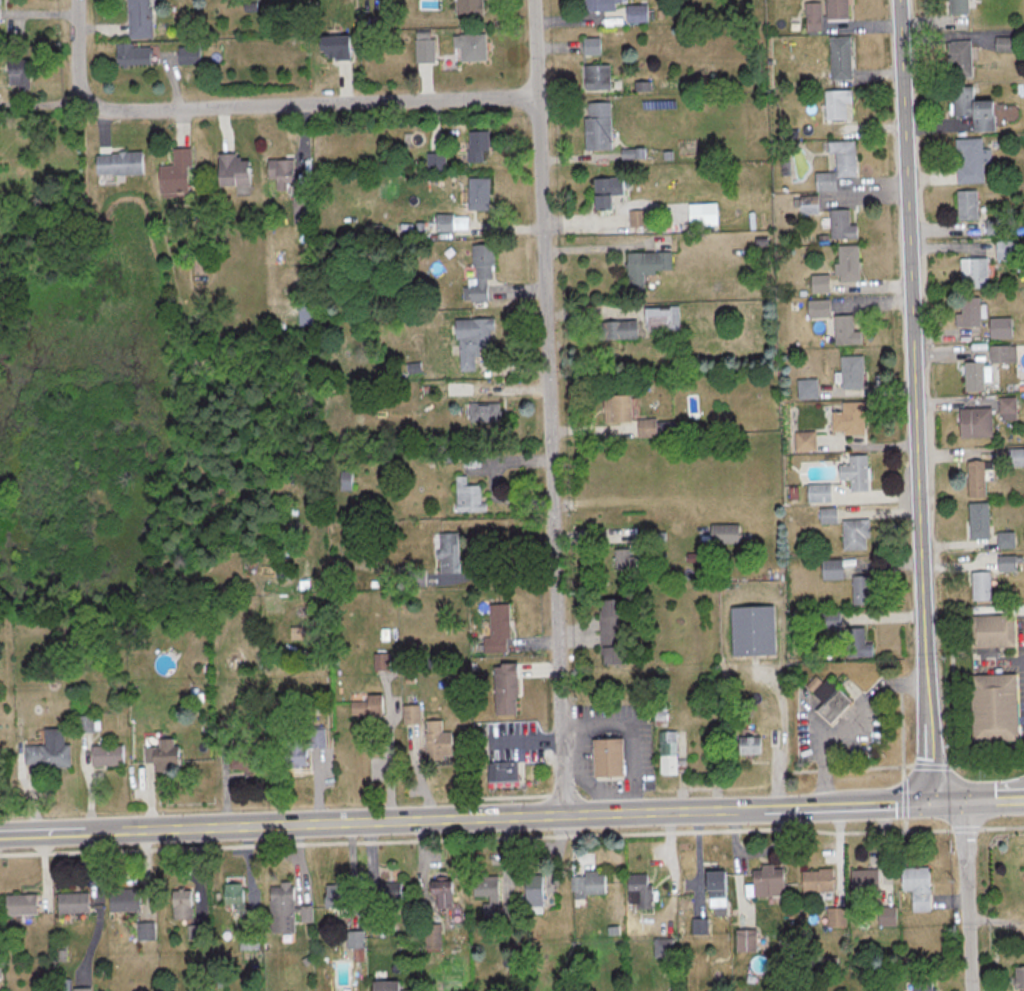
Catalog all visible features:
building: (599, 5)
building: (473, 7)
building: (956, 7)
building: (835, 10)
building: (0, 11)
building: (635, 13)
building: (811, 15)
building: (142, 19)
building: (1002, 44)
building: (590, 46)
building: (340, 47)
building: (472, 47)
road: (77, 50)
building: (426, 50)
building: (135, 54)
building: (190, 55)
building: (839, 58)
building: (958, 59)
building: (21, 72)
building: (594, 77)
road: (306, 100)
building: (836, 104)
building: (971, 109)
building: (596, 125)
building: (479, 145)
building: (632, 155)
building: (970, 160)
building: (123, 161)
building: (437, 161)
building: (836, 165)
building: (237, 168)
building: (282, 170)
building: (180, 173)
building: (479, 193)
building: (605, 193)
building: (807, 205)
building: (965, 205)
building: (302, 208)
building: (701, 215)
building: (446, 222)
building: (840, 226)
road: (595, 246)
building: (1004, 250)
building: (846, 264)
building: (643, 268)
building: (972, 273)
building: (478, 275)
building: (818, 284)
building: (816, 309)
building: (967, 313)
building: (659, 319)
building: (999, 328)
building: (615, 330)
building: (843, 332)
building: (471, 340)
building: (1001, 354)
building: (848, 372)
building: (972, 377)
building: (806, 389)
road: (918, 401)
road: (550, 408)
building: (615, 409)
building: (1006, 409)
building: (482, 412)
building: (847, 418)
building: (973, 423)
building: (644, 428)
building: (803, 441)
building: (1014, 457)
building: (473, 459)
building: (853, 473)
building: (977, 477)
building: (347, 479)
building: (817, 492)
building: (470, 495)
building: (826, 515)
building: (977, 519)
building: (722, 532)
building: (853, 533)
building: (1004, 539)
building: (451, 552)
building: (1005, 562)
building: (830, 567)
road: (494, 574)
building: (979, 585)
building: (860, 588)
building: (497, 628)
building: (751, 629)
building: (995, 630)
building: (610, 631)
building: (856, 642)
building: (381, 661)
building: (504, 688)
building: (828, 700)
building: (365, 704)
building: (997, 709)
building: (410, 714)
road: (859, 734)
road: (626, 735)
building: (436, 739)
road: (779, 744)
building: (304, 745)
building: (747, 745)
building: (51, 750)
building: (109, 754)
building: (166, 754)
building: (668, 754)
building: (247, 756)
building: (606, 757)
road: (387, 761)
building: (503, 771)
road: (994, 800)
road: (950, 802)
traffic signals: (965, 802)
traffic signals: (936, 803)
road: (848, 805)
road: (423, 820)
road: (42, 833)
road: (512, 836)
building: (766, 880)
building: (816, 880)
building: (587, 883)
building: (863, 883)
building: (916, 886)
building: (714, 888)
building: (389, 890)
building: (530, 891)
building: (637, 891)
building: (486, 892)
building: (441, 893)
building: (334, 895)
road: (968, 896)
building: (127, 898)
building: (237, 898)
building: (75, 902)
building: (23, 903)
building: (184, 903)
building: (287, 908)
building: (885, 915)
building: (835, 916)
building: (698, 925)
building: (146, 931)
building: (197, 931)
building: (431, 937)
building: (744, 940)
building: (353, 946)
building: (662, 947)
building: (1018, 978)
building: (381, 985)
building: (920, 985)

